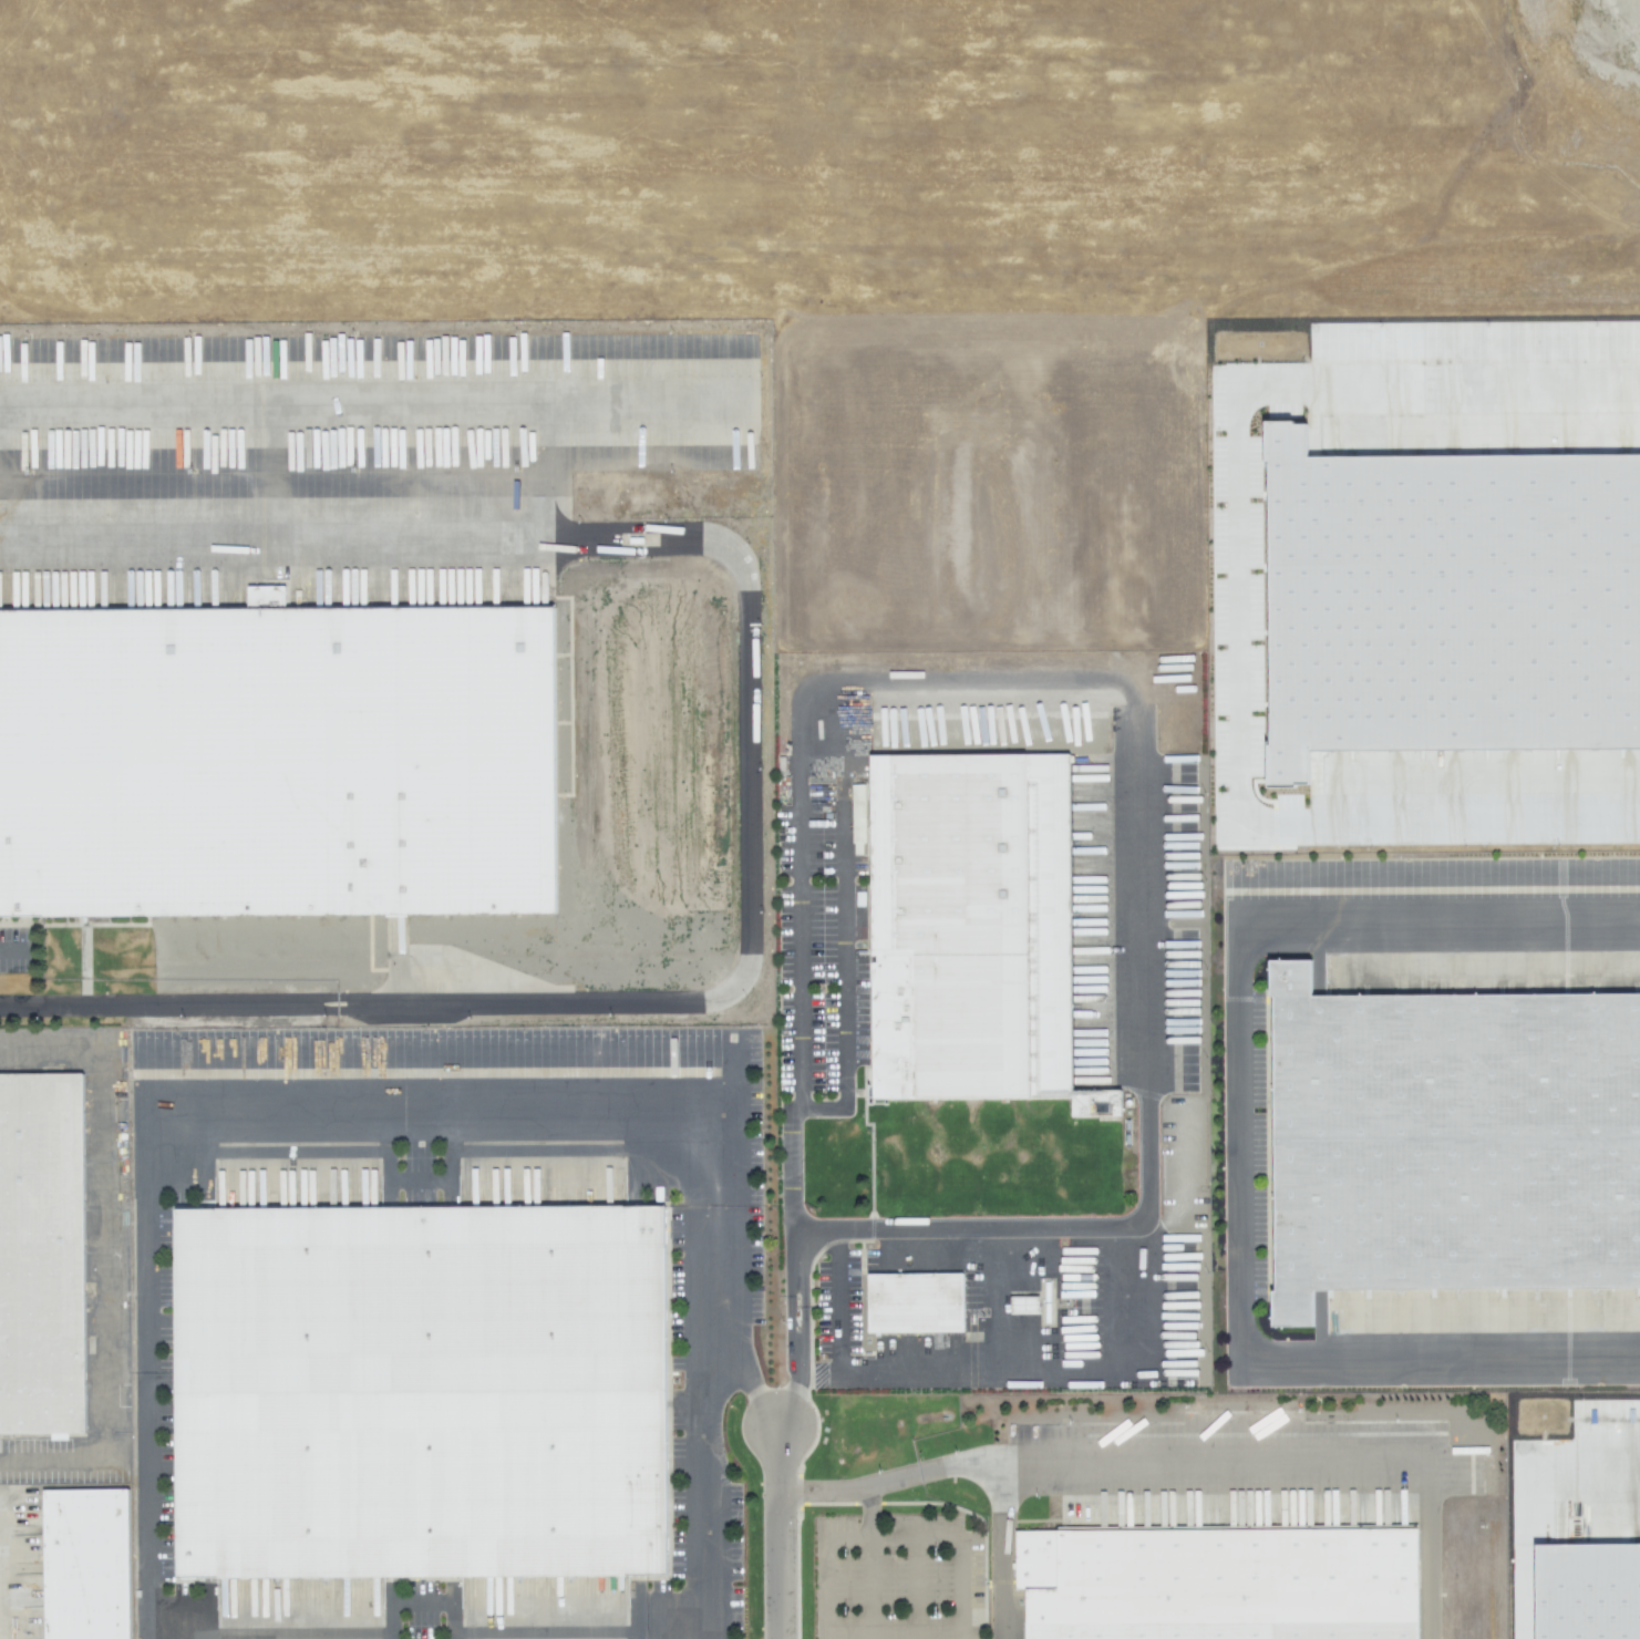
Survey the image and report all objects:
road: (368, 399)
road: (371, 538)
road: (1236, 602)
road: (800, 745)
building: (269, 756)
building: (857, 801)
railway: (367, 819)
building: (962, 925)
road: (1234, 944)
road: (11, 950)
road: (1137, 955)
road: (842, 978)
road: (588, 1006)
road: (604, 1103)
building: (1450, 1143)
road: (792, 1182)
road: (871, 1231)
building: (37, 1253)
road: (102, 1257)
building: (906, 1298)
building: (1022, 1305)
road: (1438, 1362)
road: (143, 1371)
building: (415, 1390)
road: (1101, 1458)
road: (699, 1493)
road: (781, 1533)
road: (955, 1544)
road: (1426, 1548)
road: (1000, 1549)
road: (866, 1565)
building: (87, 1566)
road: (823, 1568)
building: (1218, 1584)
road: (914, 1589)
building: (1587, 1591)

